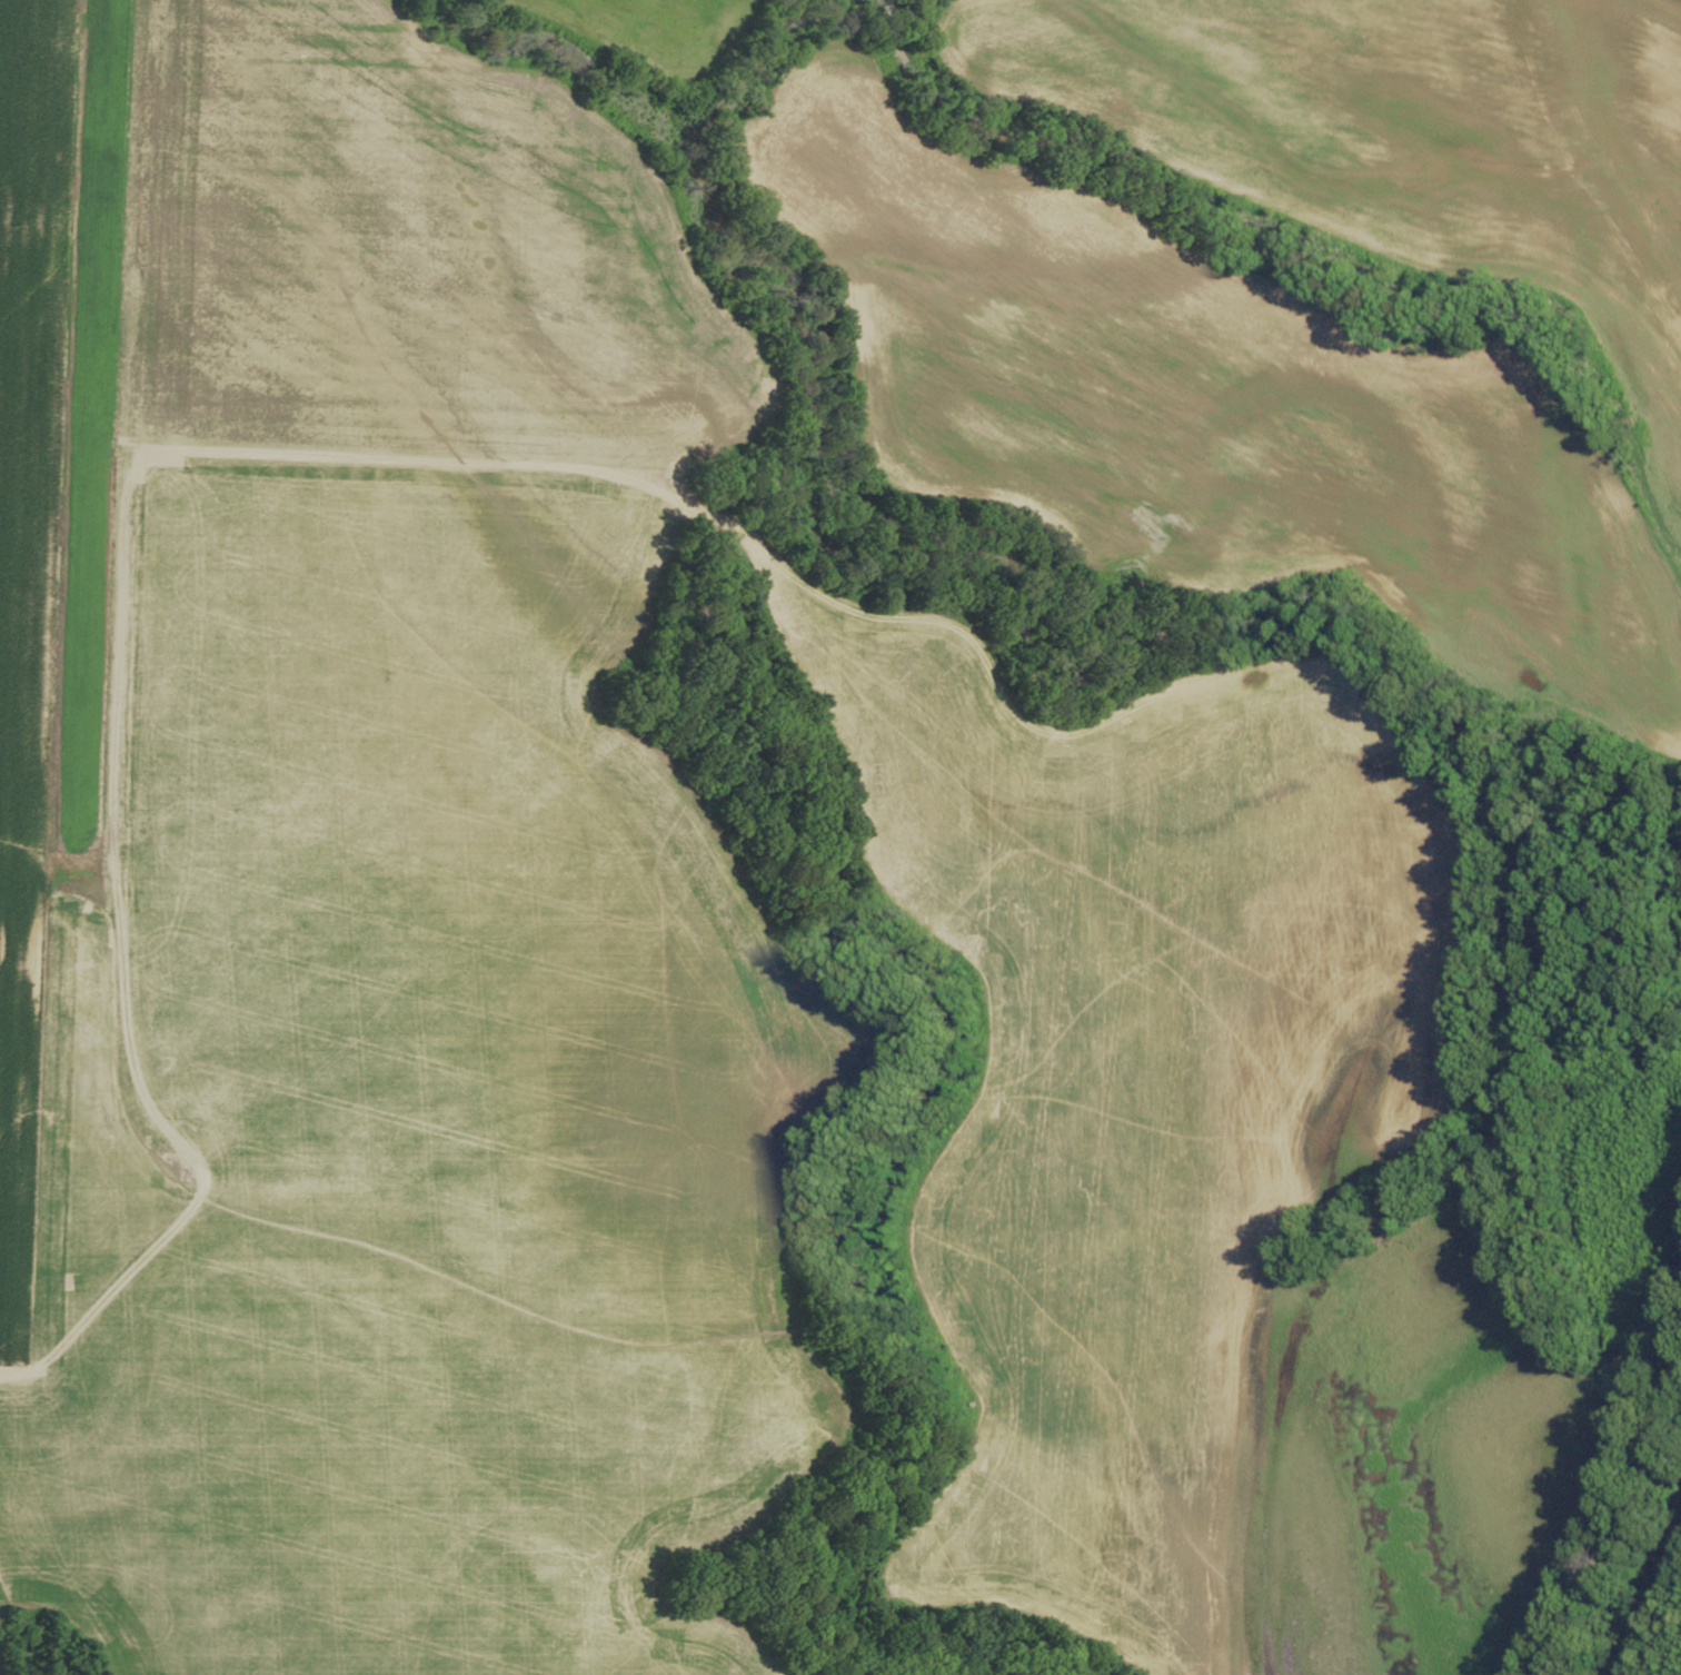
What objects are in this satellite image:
airport runway: (82, 420)

